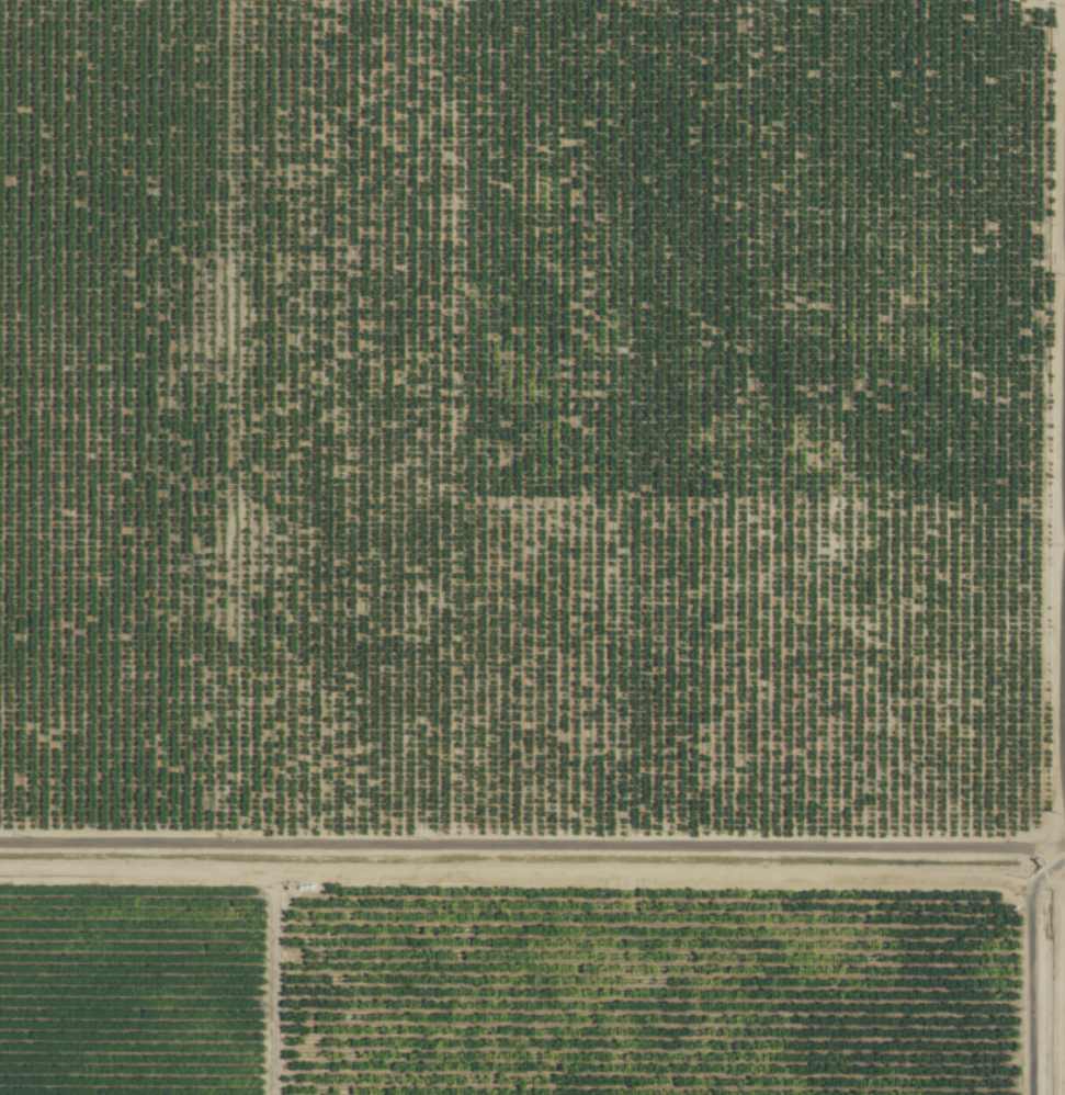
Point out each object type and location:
crop: (532, 547)
road: (534, 902)

